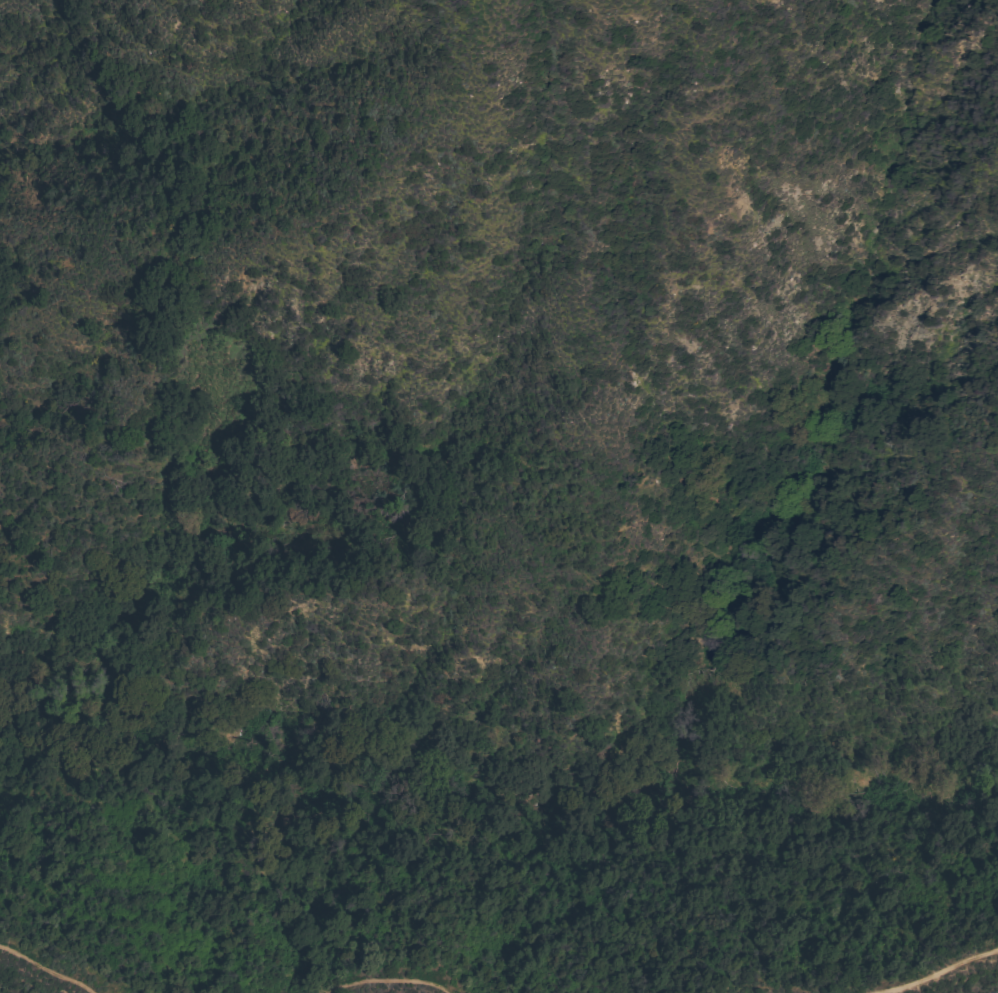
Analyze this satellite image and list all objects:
road: (933, 975)

